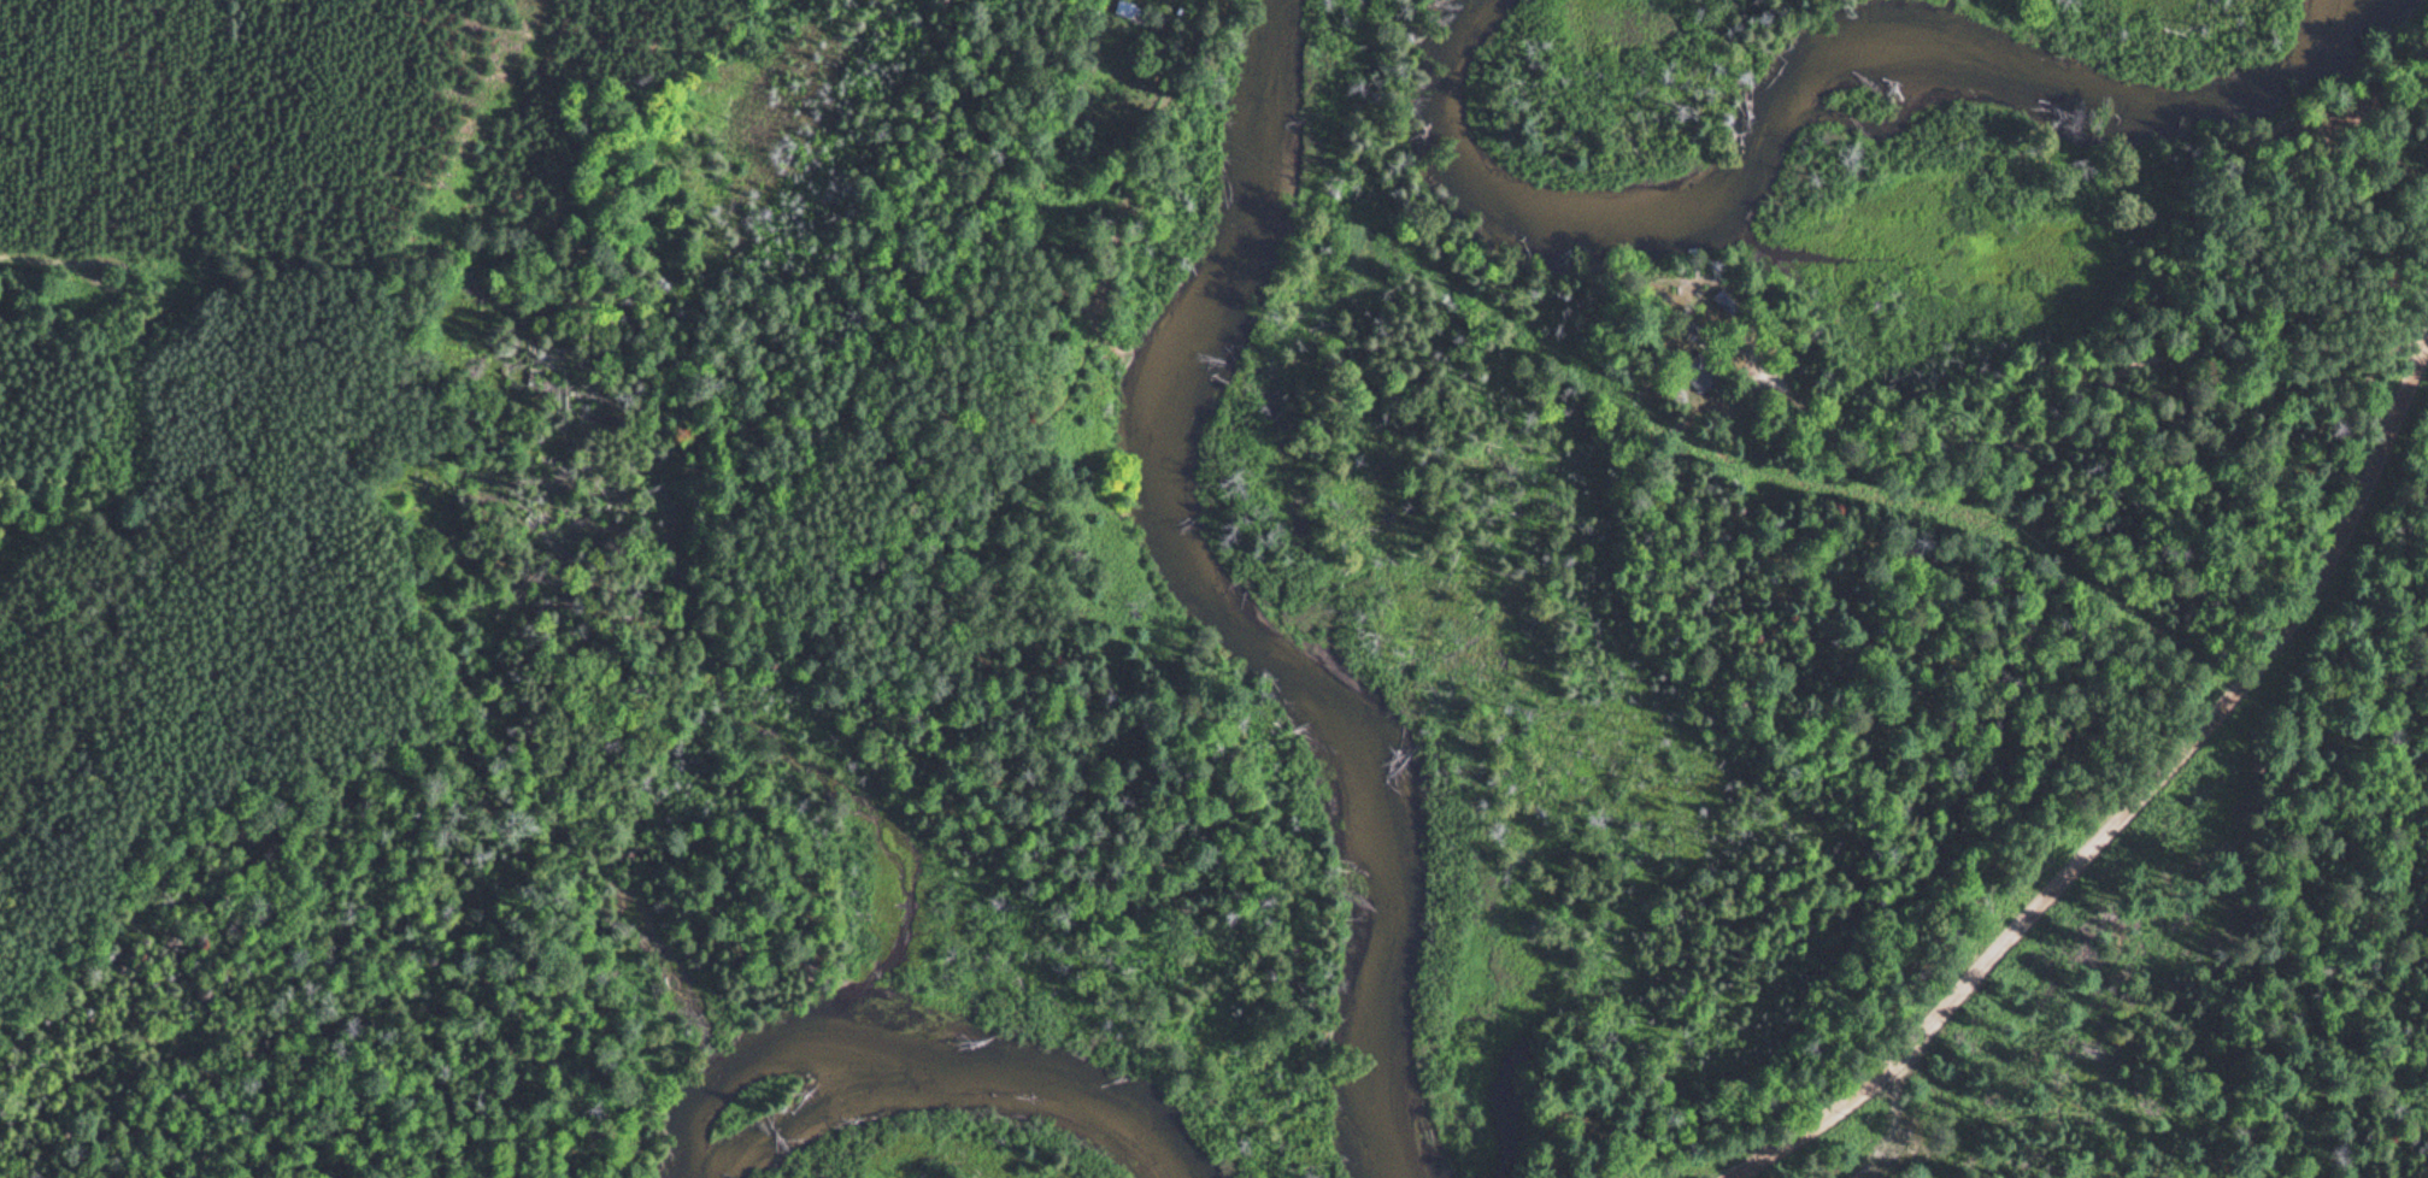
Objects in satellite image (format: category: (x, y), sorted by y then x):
building: (1121, 7)
river: (1811, 67)
river: (1216, 271)
building: (1719, 299)
building: (1699, 372)
road: (2138, 796)
river: (1381, 819)
river: (928, 1071)

